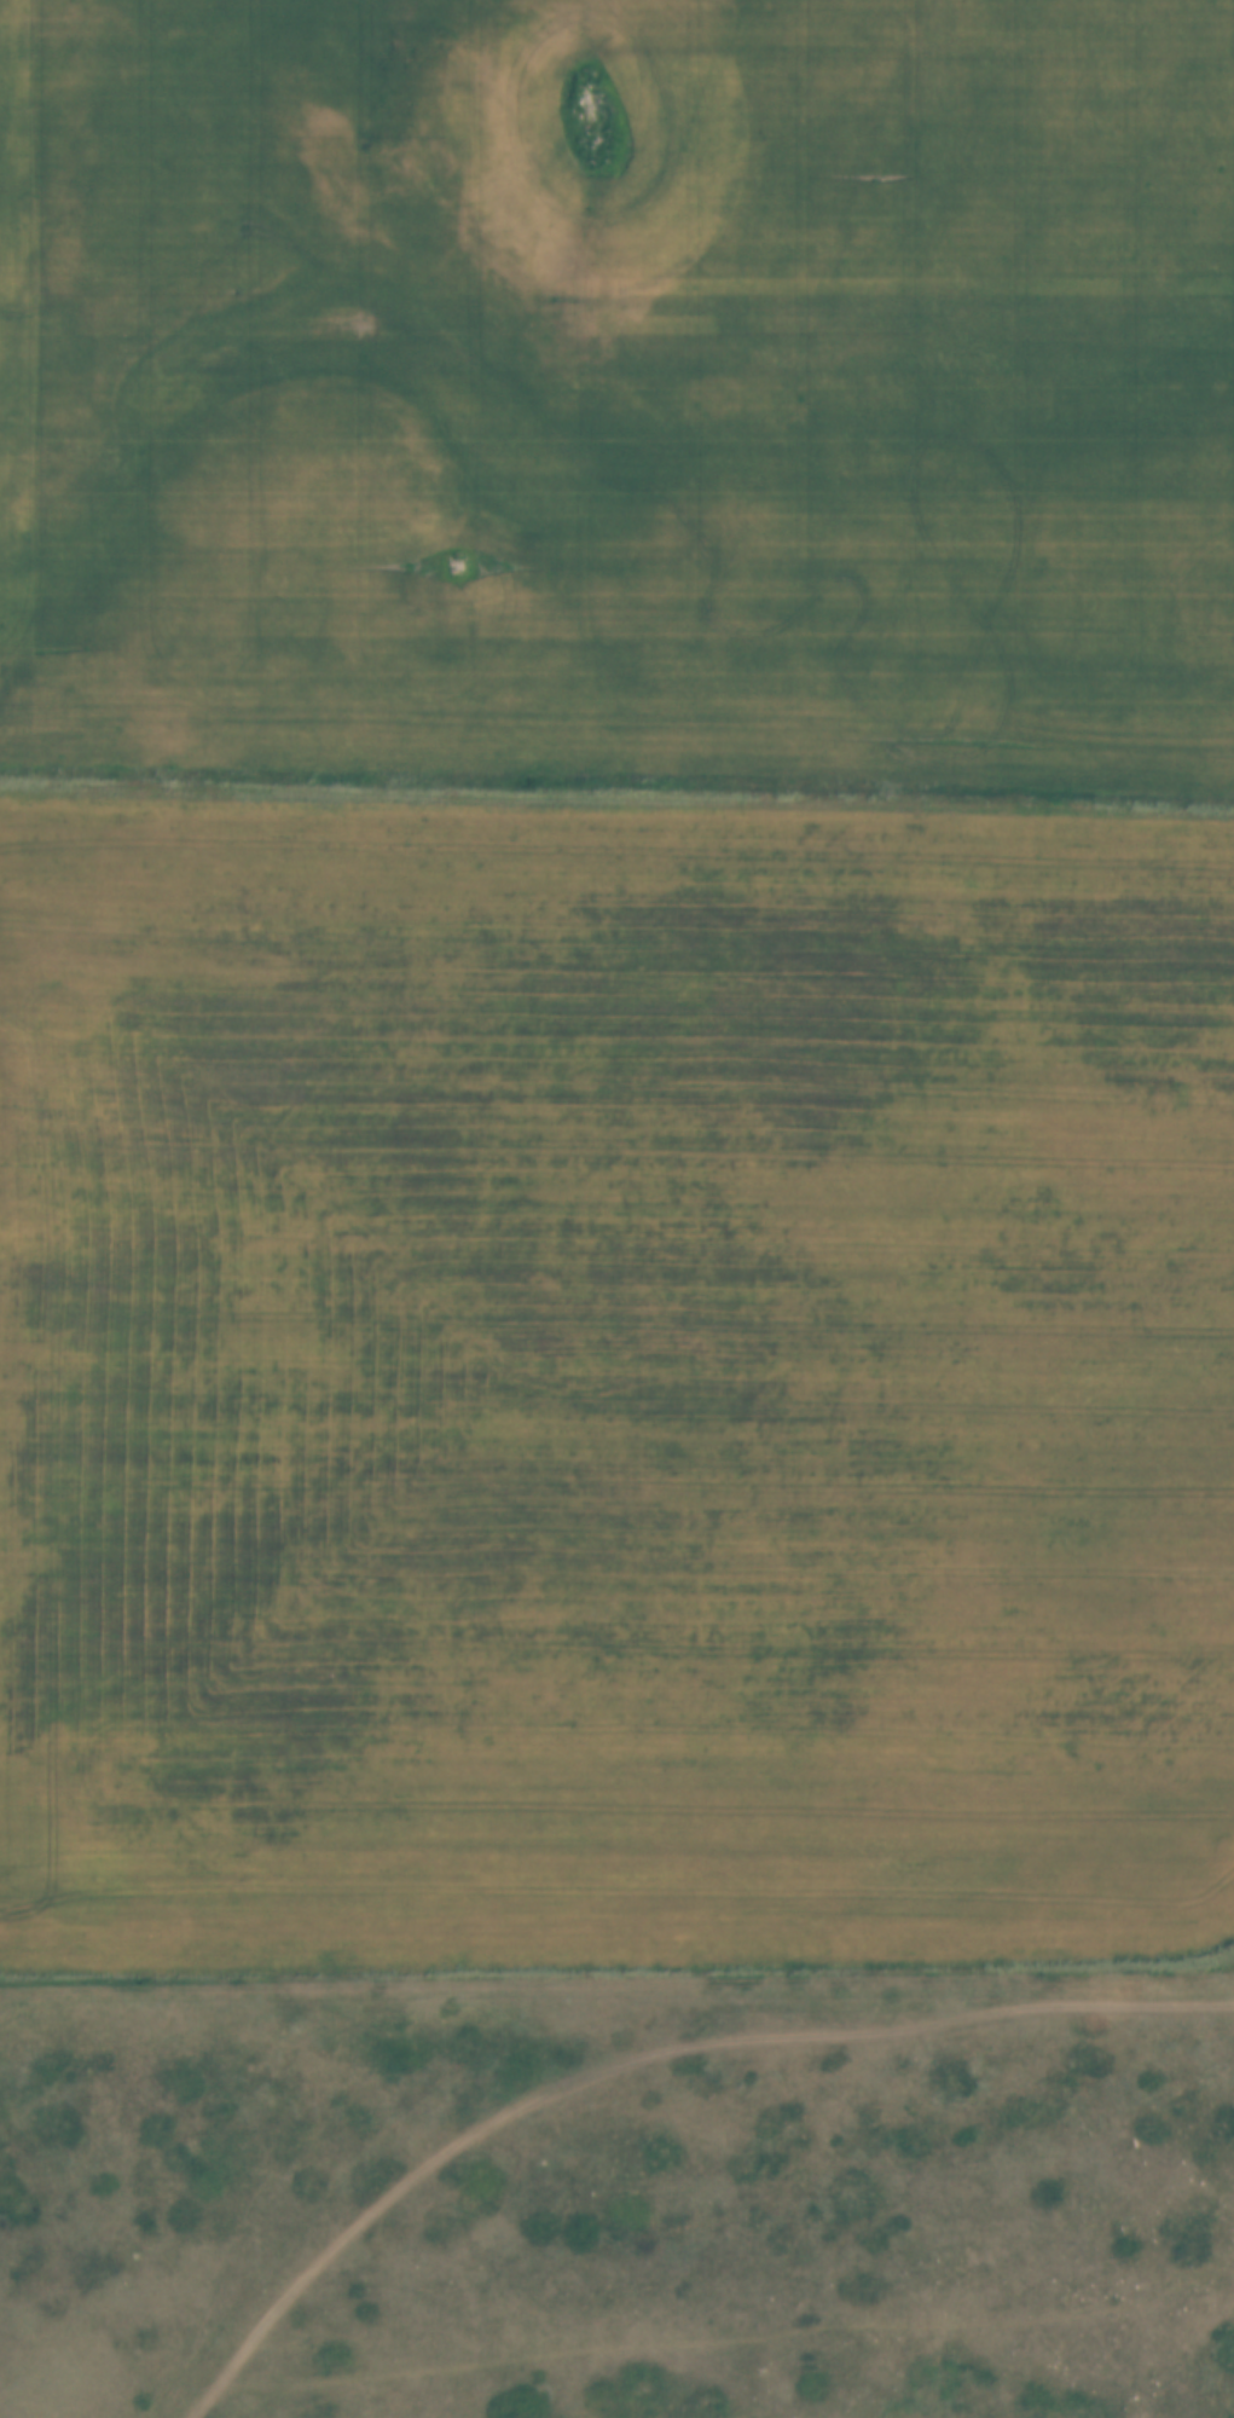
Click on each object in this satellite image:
road: (645, 2060)

